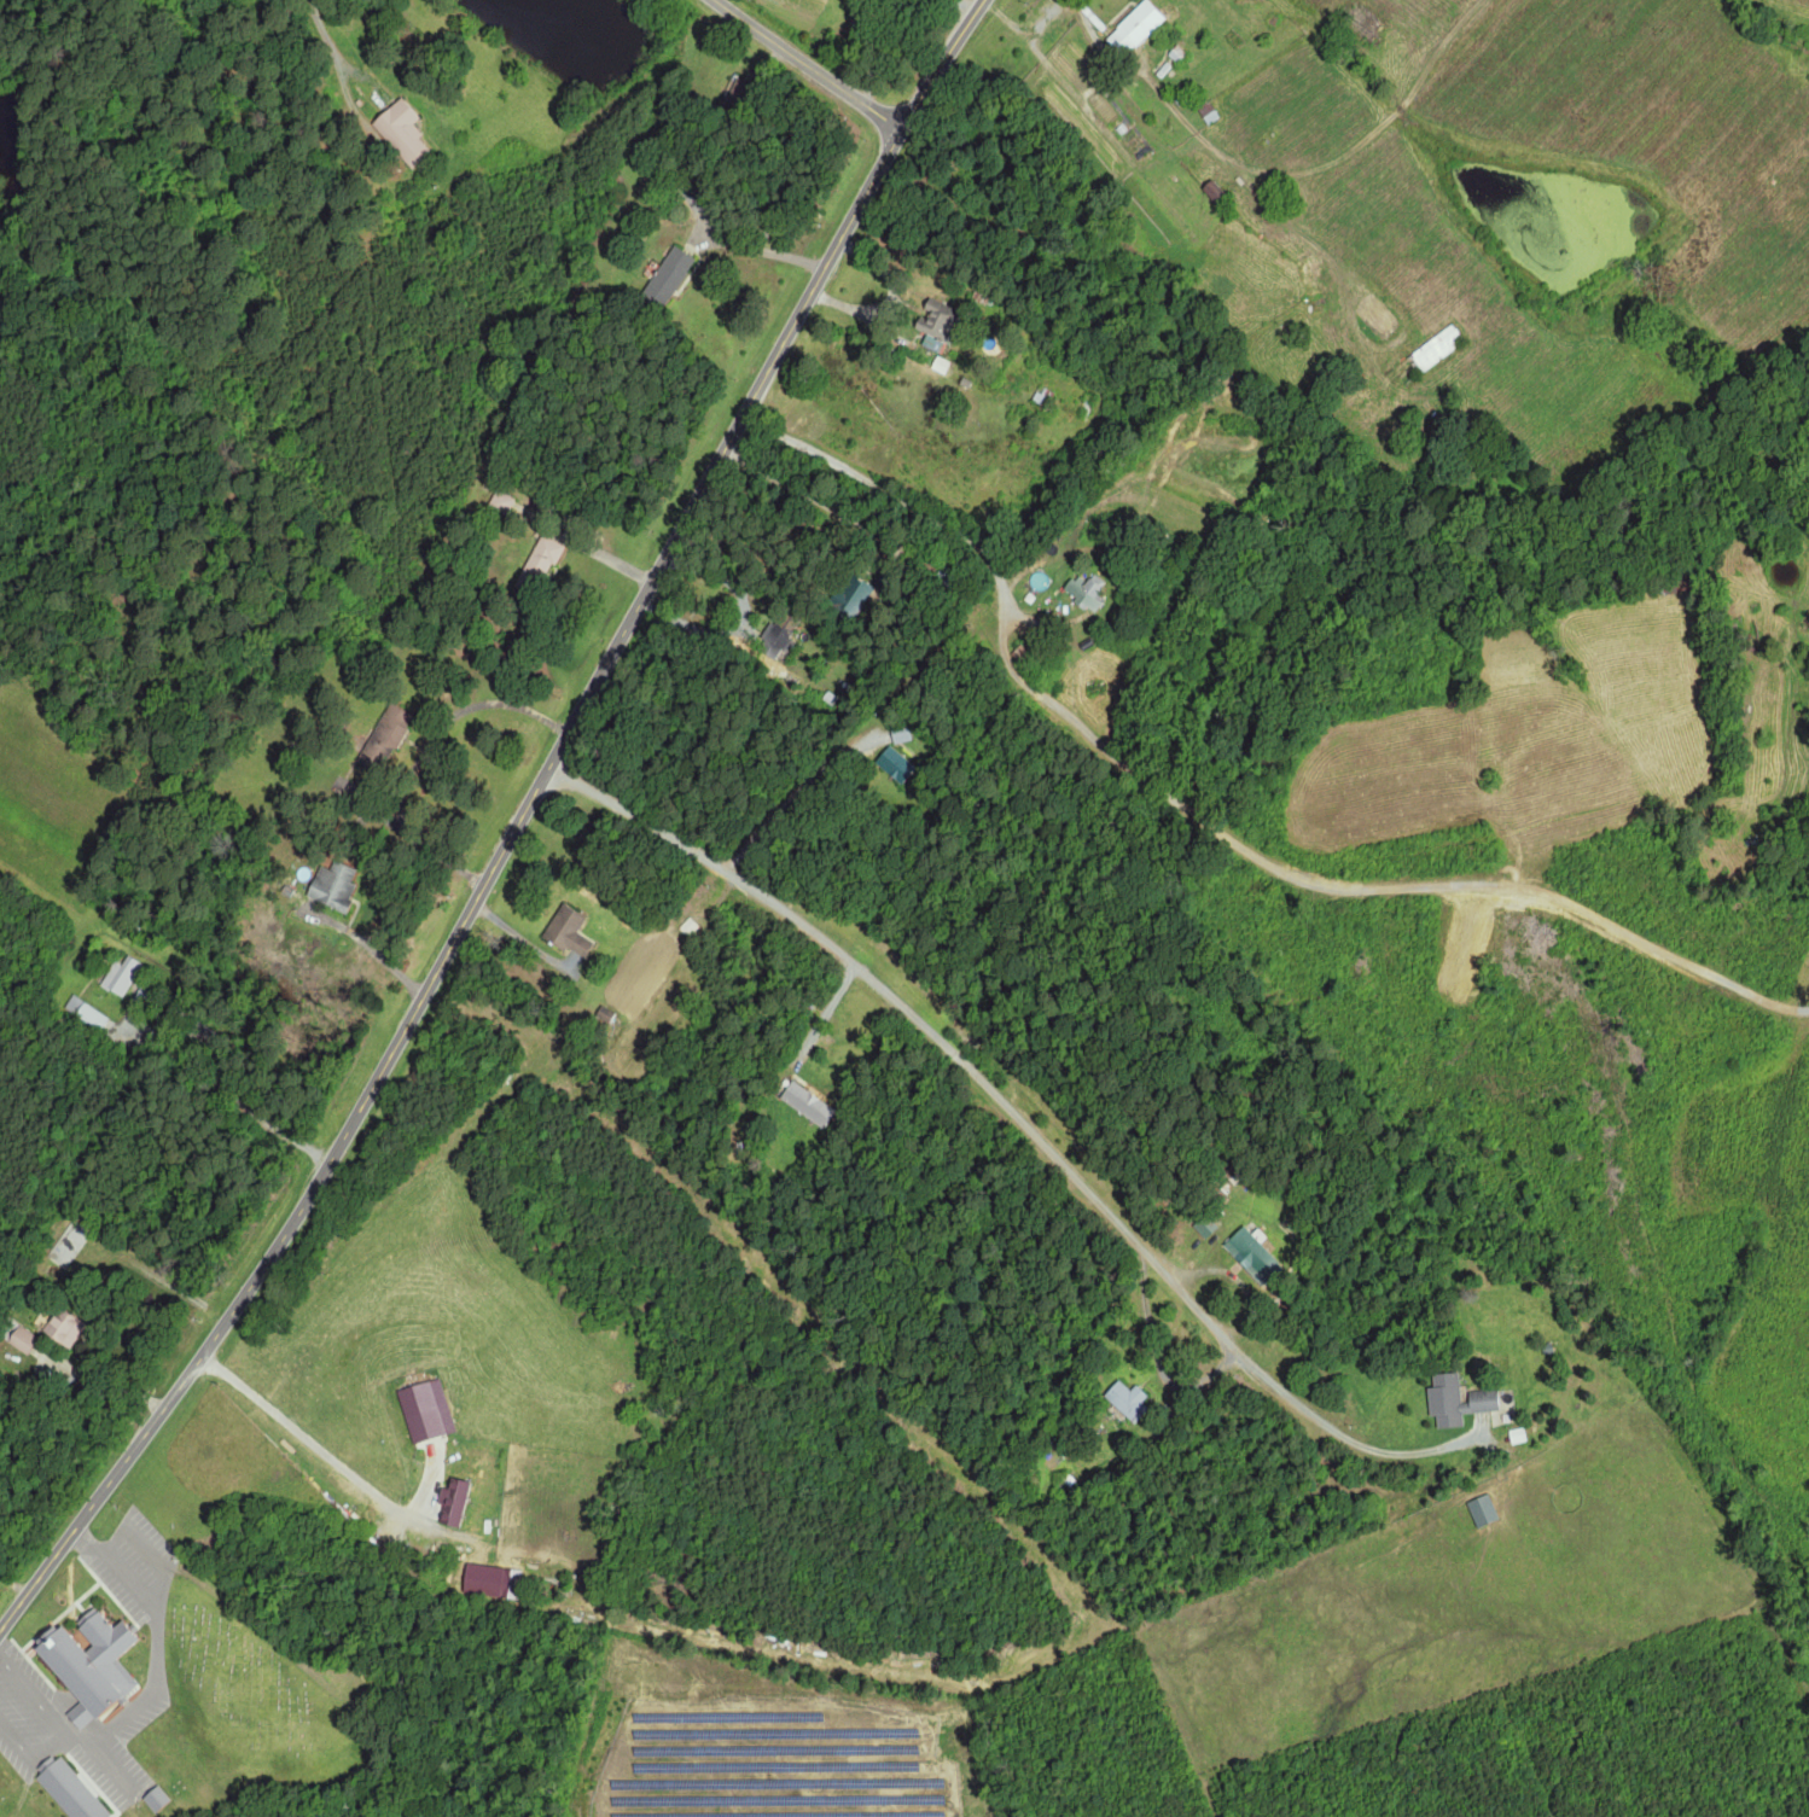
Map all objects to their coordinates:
building: (1132, 27)
road: (330, 47)
road: (815, 65)
building: (400, 130)
building: (664, 276)
building: (930, 318)
building: (929, 342)
road: (804, 495)
building: (499, 501)
building: (540, 557)
building: (1083, 592)
building: (845, 595)
building: (776, 641)
building: (383, 734)
building: (890, 763)
road: (1204, 820)
road: (513, 833)
building: (327, 885)
building: (564, 930)
building: (120, 976)
building: (87, 1012)
building: (803, 1101)
road: (994, 1107)
building: (1247, 1253)
building: (62, 1327)
building: (23, 1338)
building: (1125, 1399)
building: (1455, 1400)
building: (424, 1409)
building: (453, 1501)
building: (1479, 1510)
building: (85, 1661)
solar farm: (776, 1760)
building: (66, 1789)
building: (152, 1796)

